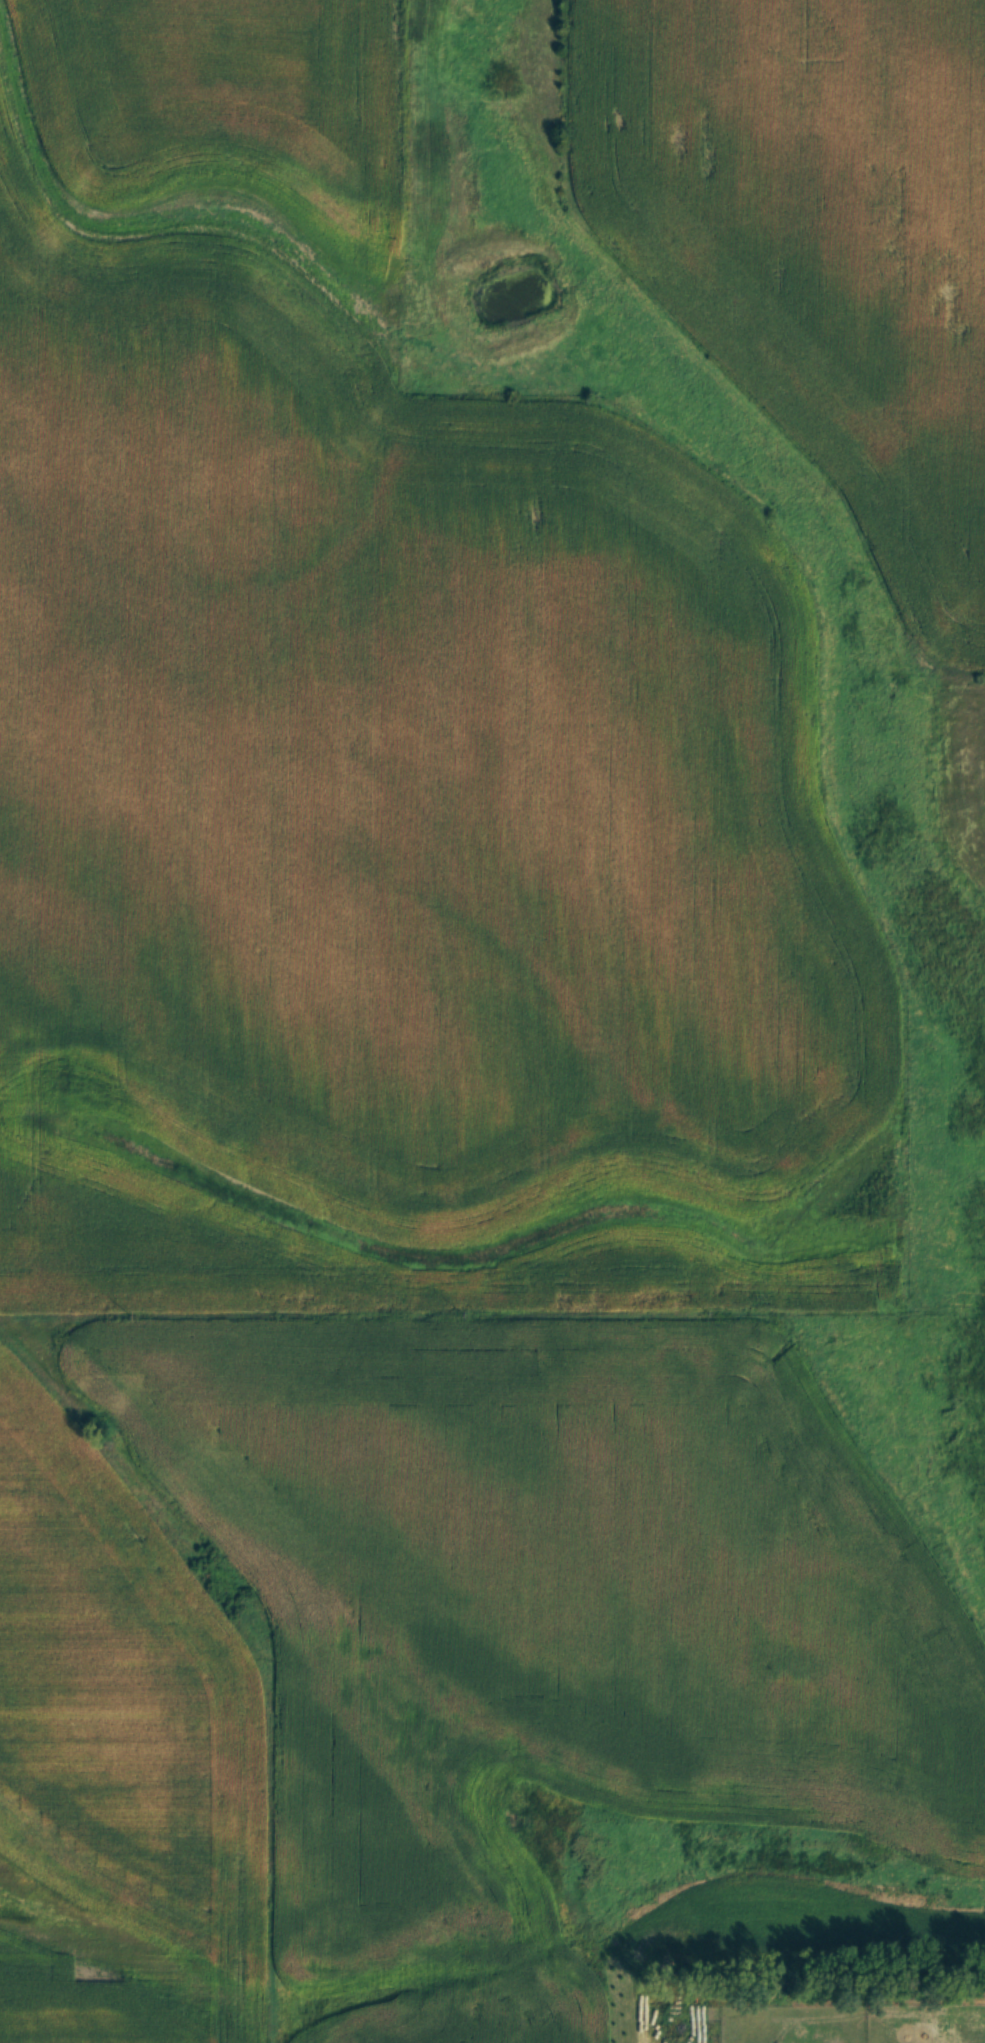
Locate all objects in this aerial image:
building: (935, 2029)

